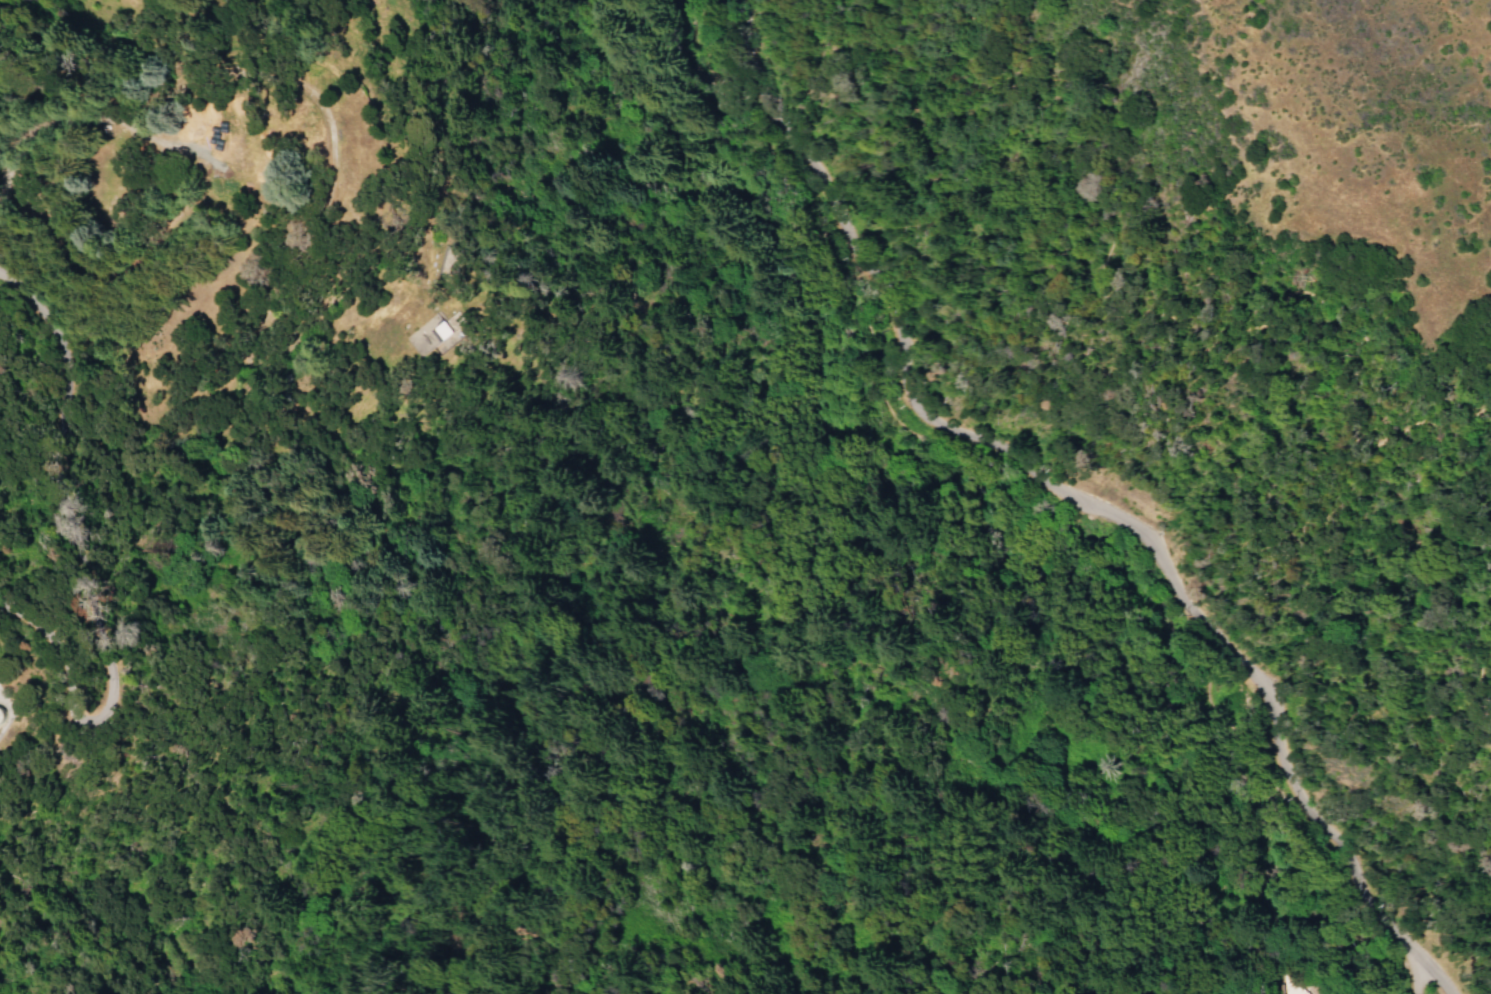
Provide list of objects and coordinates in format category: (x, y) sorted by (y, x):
road: (1157, 315)
building: (426, 335)
road: (899, 365)
road: (1485, 406)
road: (846, 421)
road: (1478, 697)
building: (2, 717)
storage tank: (2, 717)
road: (1266, 717)
road: (1356, 893)
road: (1423, 961)
road: (1407, 970)
building: (1287, 985)
road: (1441, 986)

